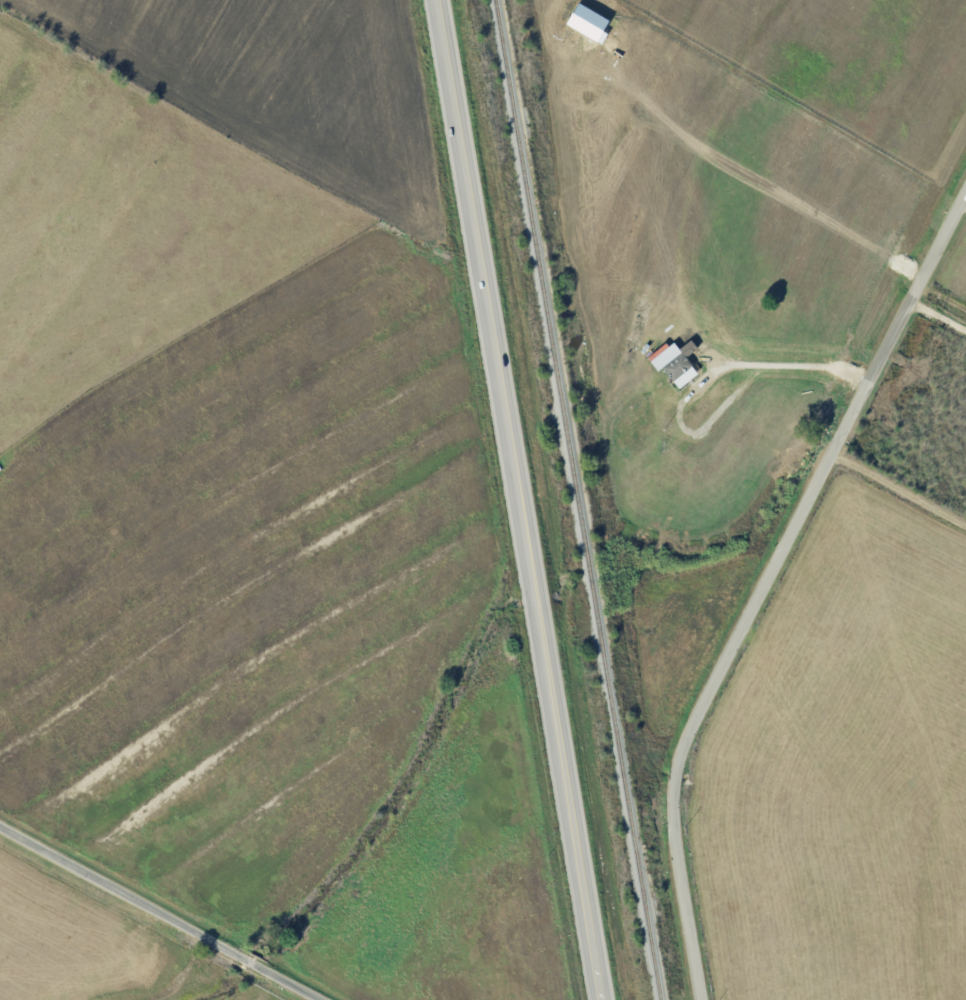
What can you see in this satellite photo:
road: (962, 213)
road: (941, 308)
road: (792, 364)
building: (678, 365)
road: (905, 469)
railway: (580, 499)
road: (521, 500)
road: (766, 586)
road: (164, 911)

